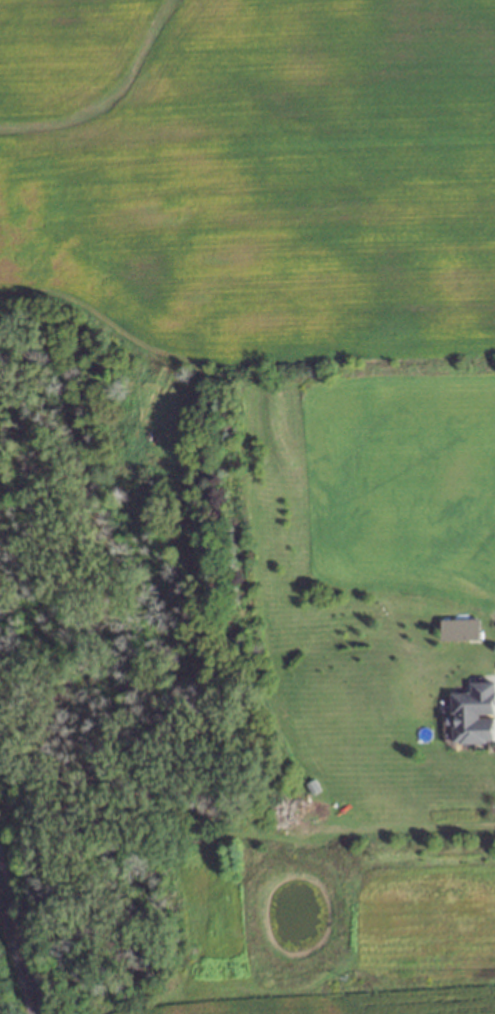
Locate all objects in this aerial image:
building: (472, 715)
railway: (17, 953)

